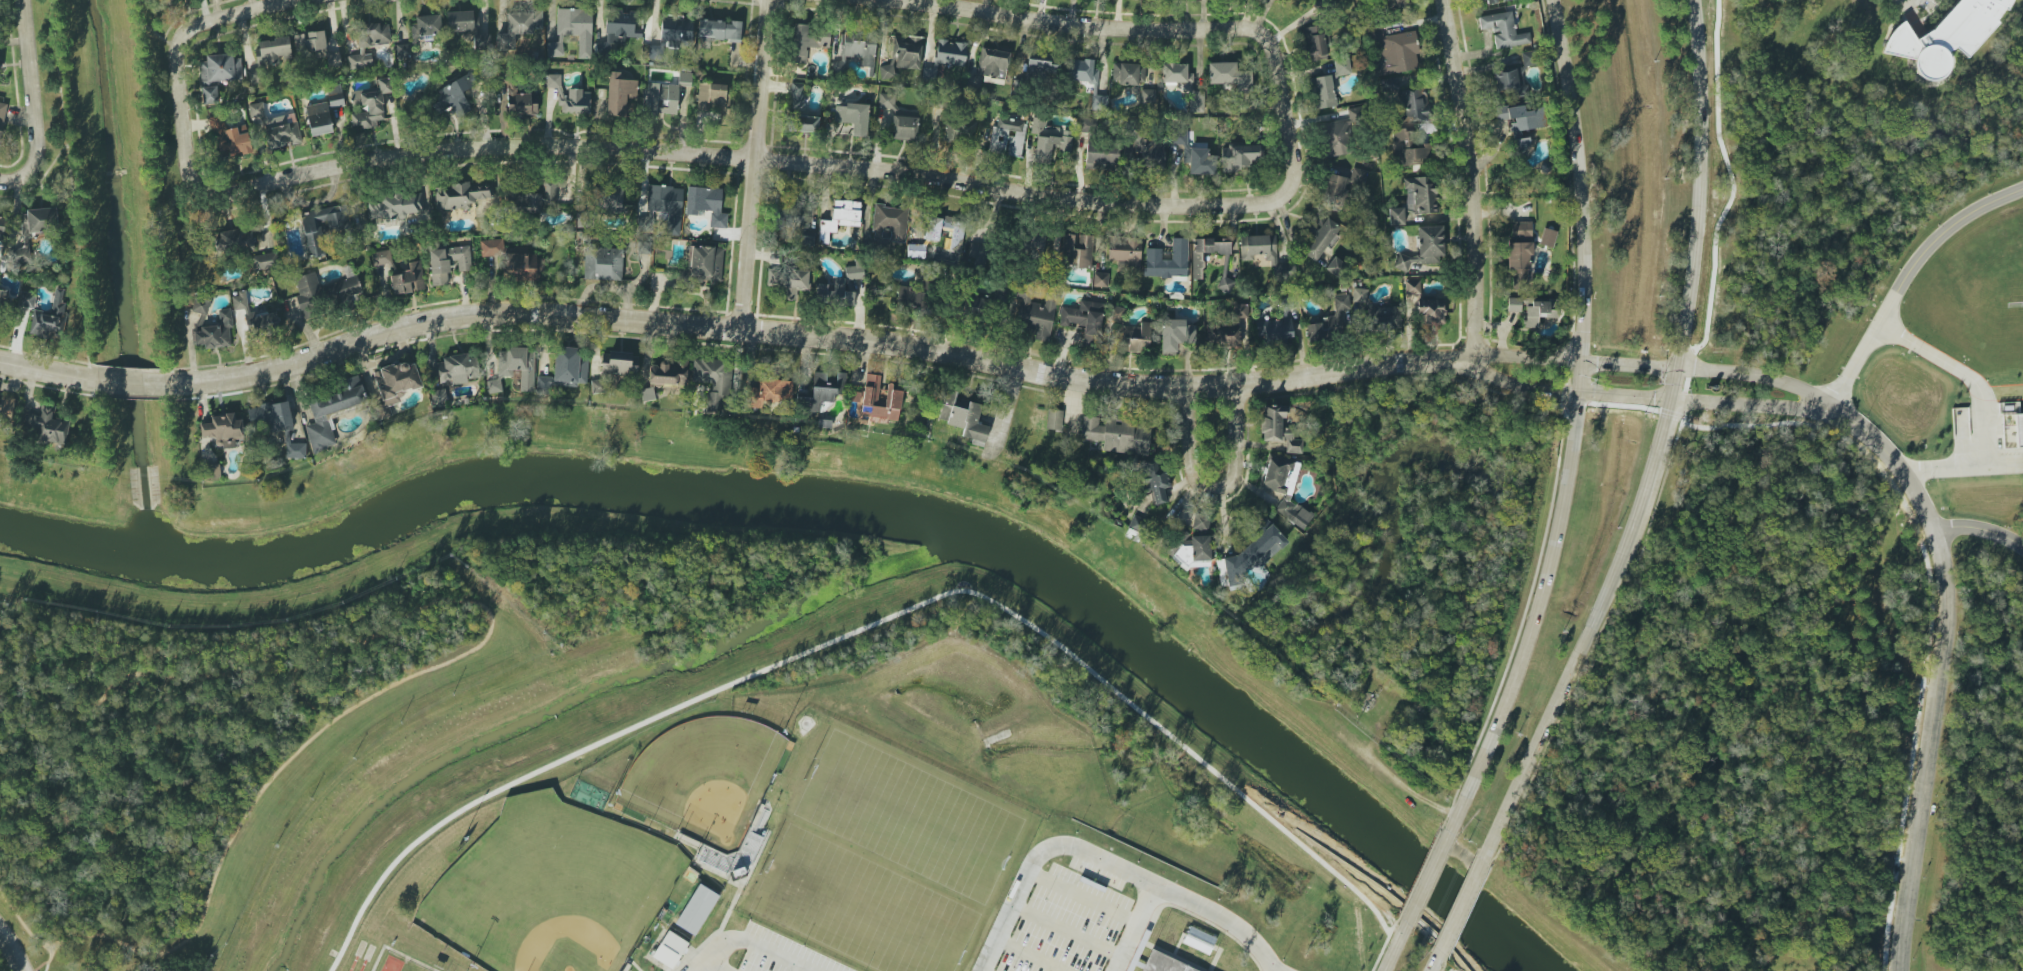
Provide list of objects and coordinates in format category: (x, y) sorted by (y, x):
building: (459, 21)
road: (1059, 21)
road: (200, 24)
building: (519, 27)
building: (617, 29)
building: (720, 30)
building: (1503, 30)
building: (573, 31)
building: (675, 32)
road: (159, 36)
building: (1946, 36)
building: (808, 40)
building: (310, 41)
building: (481, 41)
building: (368, 43)
building: (1313, 43)
building: (273, 50)
building: (855, 50)
building: (404, 51)
building: (1393, 51)
building: (951, 53)
road: (27, 55)
building: (902, 57)
building: (1527, 58)
building: (333, 59)
building: (988, 66)
building: (1342, 66)
building: (1042, 68)
road: (56, 71)
building: (1081, 71)
building: (1128, 73)
building: (1175, 73)
building: (218, 75)
building: (1231, 77)
building: (684, 79)
building: (1510, 79)
building: (553, 81)
building: (1323, 91)
building: (619, 93)
building: (454, 95)
building: (335, 96)
building: (796, 96)
building: (1147, 96)
building: (713, 98)
building: (660, 99)
building: (886, 101)
building: (1196, 101)
building: (575, 102)
building: (1099, 102)
building: (520, 103)
building: (1413, 105)
building: (370, 106)
building: (255, 110)
building: (853, 117)
building: (318, 119)
building: (803, 123)
building: (1520, 124)
building: (1088, 126)
building: (904, 127)
building: (959, 132)
building: (283, 135)
building: (1008, 137)
building: (1338, 137)
building: (229, 138)
building: (1049, 140)
building: (1410, 148)
building: (1150, 151)
road: (48, 154)
building: (1100, 154)
building: (1193, 154)
road: (33, 157)
building: (1239, 157)
road: (755, 164)
road: (797, 164)
road: (1079, 168)
road: (1472, 180)
road: (1699, 184)
building: (1333, 189)
road: (154, 192)
building: (460, 195)
building: (533, 199)
building: (1415, 199)
building: (582, 203)
building: (706, 204)
building: (666, 205)
building: (395, 206)
building: (840, 217)
building: (647, 222)
building: (791, 223)
building: (2, 226)
building: (33, 230)
building: (932, 233)
building: (1319, 236)
building: (1547, 238)
building: (235, 241)
building: (1034, 242)
building: (314, 244)
building: (1519, 245)
building: (1424, 248)
building: (1075, 250)
building: (915, 251)
building: (1123, 251)
building: (1205, 253)
building: (978, 254)
building: (1246, 257)
building: (382, 258)
road: (77, 260)
building: (1167, 260)
building: (263, 261)
building: (514, 261)
building: (447, 263)
building: (602, 264)
building: (706, 265)
building: (1336, 267)
building: (854, 271)
road: (1902, 272)
building: (408, 279)
building: (1100, 279)
building: (788, 282)
building: (1412, 287)
building: (1359, 295)
building: (2, 298)
building: (910, 298)
building: (26, 300)
building: (1517, 303)
building: (971, 306)
building: (200, 309)
building: (1240, 311)
building: (1034, 312)
building: (1430, 312)
building: (1538, 312)
building: (1384, 318)
building: (51, 319)
building: (1084, 319)
building: (1331, 319)
building: (1274, 332)
building: (216, 333)
building: (1129, 333)
building: (1176, 334)
road: (819, 335)
building: (1223, 336)
road: (1574, 360)
building: (622, 363)
building: (569, 367)
building: (514, 368)
building: (457, 369)
road: (48, 371)
building: (669, 373)
road: (1760, 378)
building: (712, 379)
building: (544, 383)
road: (1673, 383)
road: (134, 384)
building: (394, 385)
road: (1522, 386)
building: (769, 392)
building: (821, 392)
building: (647, 394)
road: (1624, 396)
building: (881, 399)
road: (1753, 401)
road: (1977, 401)
building: (6, 409)
building: (332, 411)
building: (271, 416)
building: (962, 416)
building: (1054, 419)
road: (1574, 425)
building: (48, 427)
building: (2017, 427)
building: (1278, 428)
building: (224, 430)
building: (1117, 435)
building: (296, 450)
road: (1895, 462)
building: (213, 471)
road: (1212, 473)
building: (1152, 479)
building: (1284, 488)
building: (1199, 521)
building: (1137, 523)
road: (1980, 530)
building: (1200, 550)
building: (1249, 556)
road: (867, 626)
road: (1587, 633)
road: (476, 645)
river: (586, 695)
river: (1201, 695)
road: (1928, 751)
road: (1037, 855)
road: (1427, 876)
park: (551, 890)
road: (1082, 897)
building: (775, 901)
road: (1461, 905)
building: (697, 911)
road: (1217, 922)
road: (22, 925)
road: (1132, 930)
road: (1066, 931)
road: (749, 939)
building: (1198, 940)
road: (1385, 946)
road: (1394, 946)
building: (670, 949)
road: (11, 952)
road: (1029, 955)
stadium: (380, 958)
road: (1435, 961)
road: (41, 963)
building: (1164, 964)
building: (628, 968)

